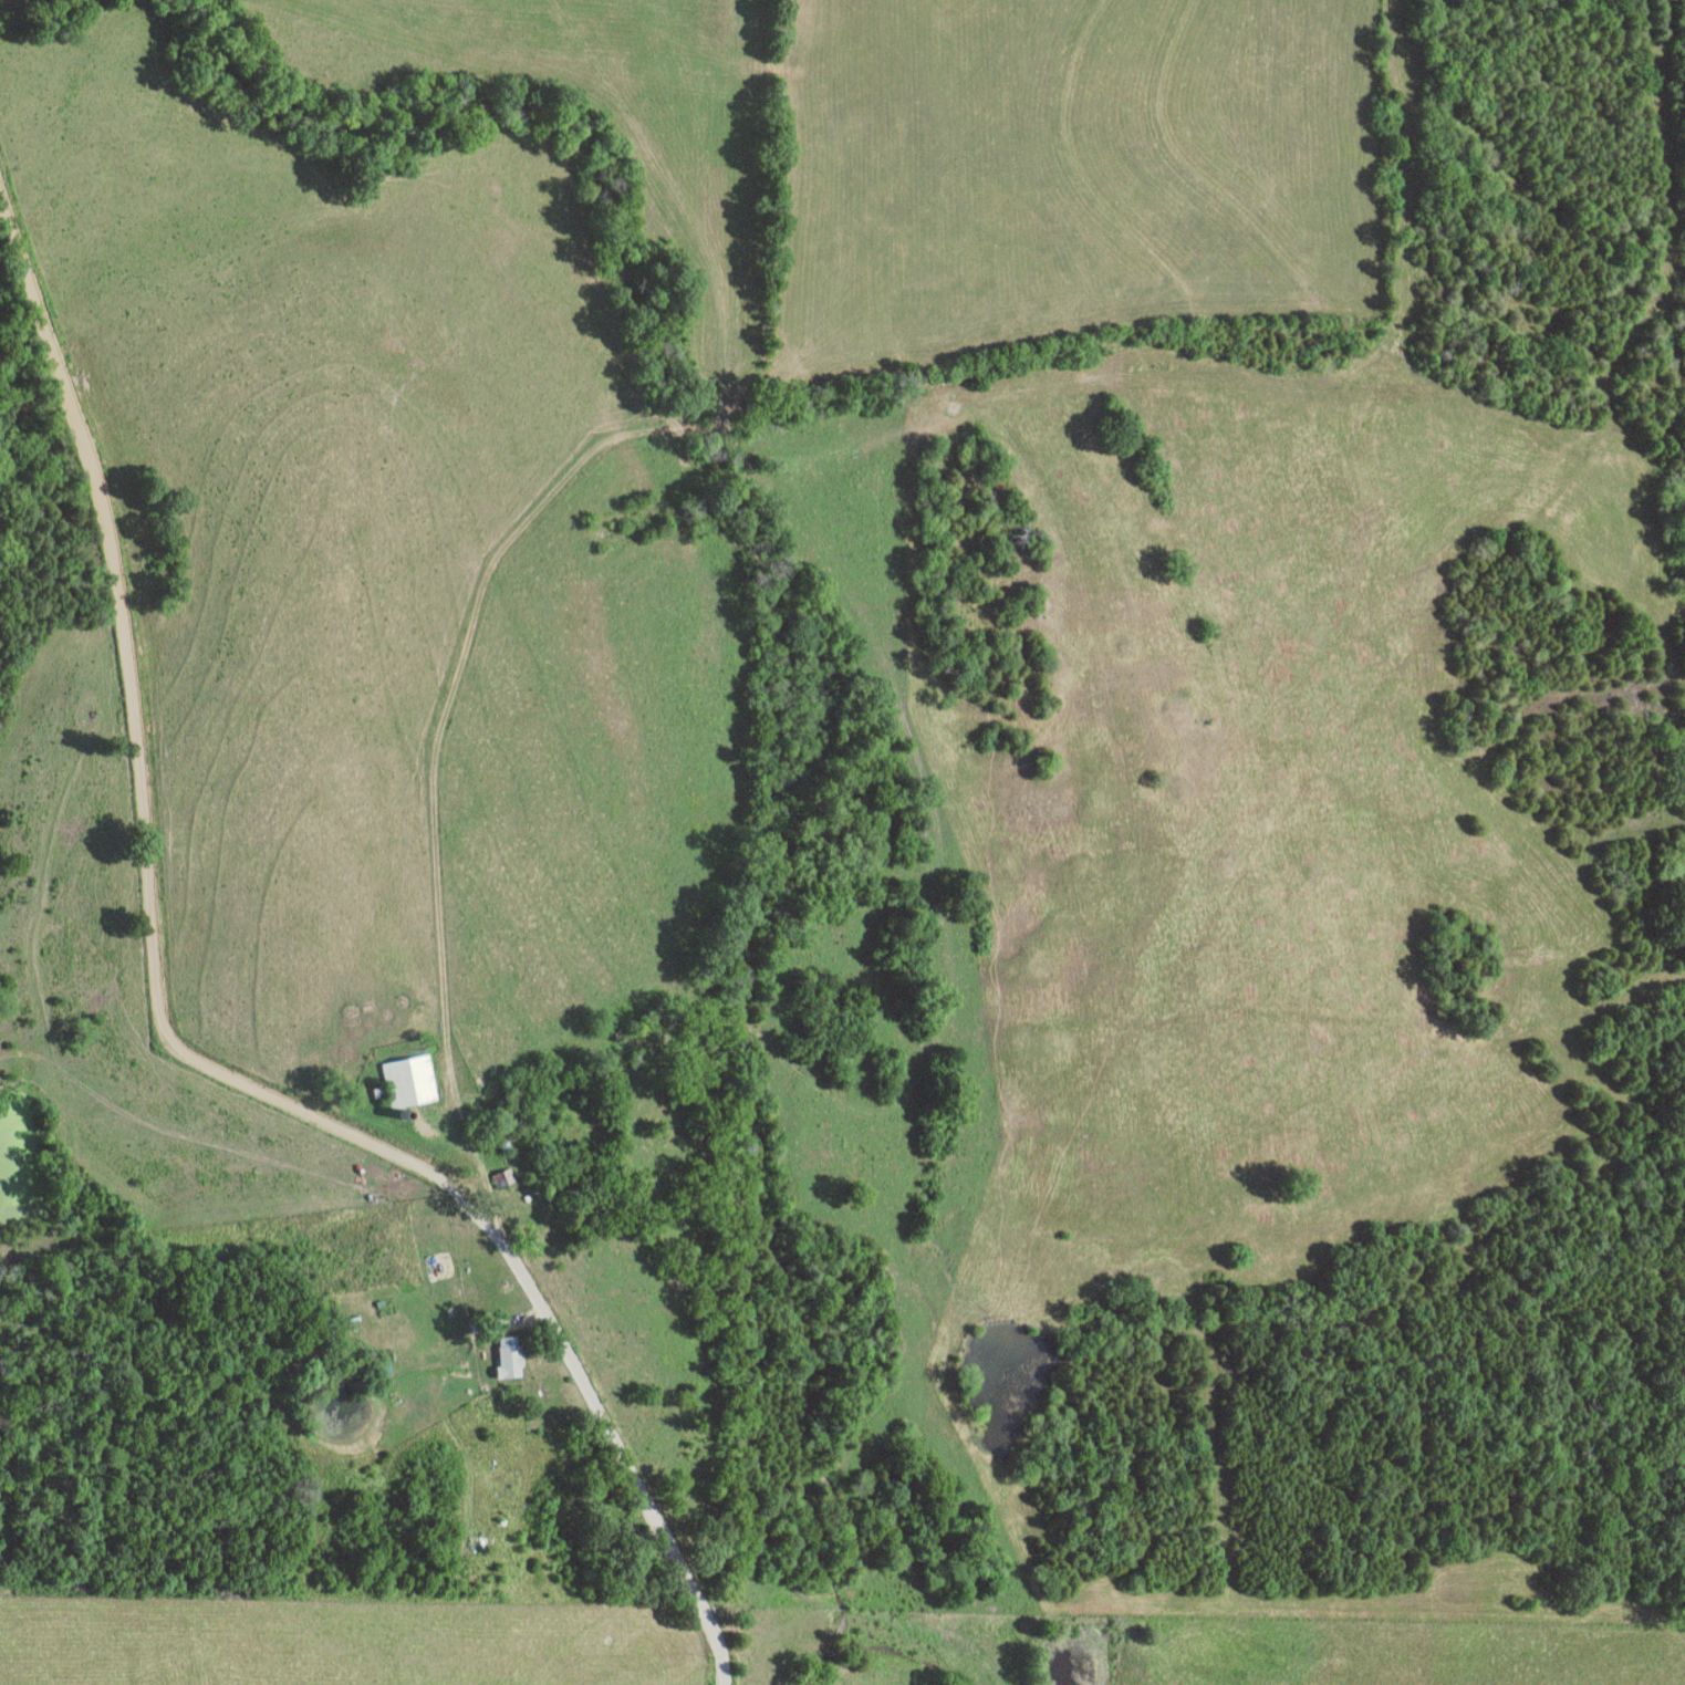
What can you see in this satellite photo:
road: (170, 1048)
building: (410, 1083)
road: (476, 1159)
building: (510, 1358)

